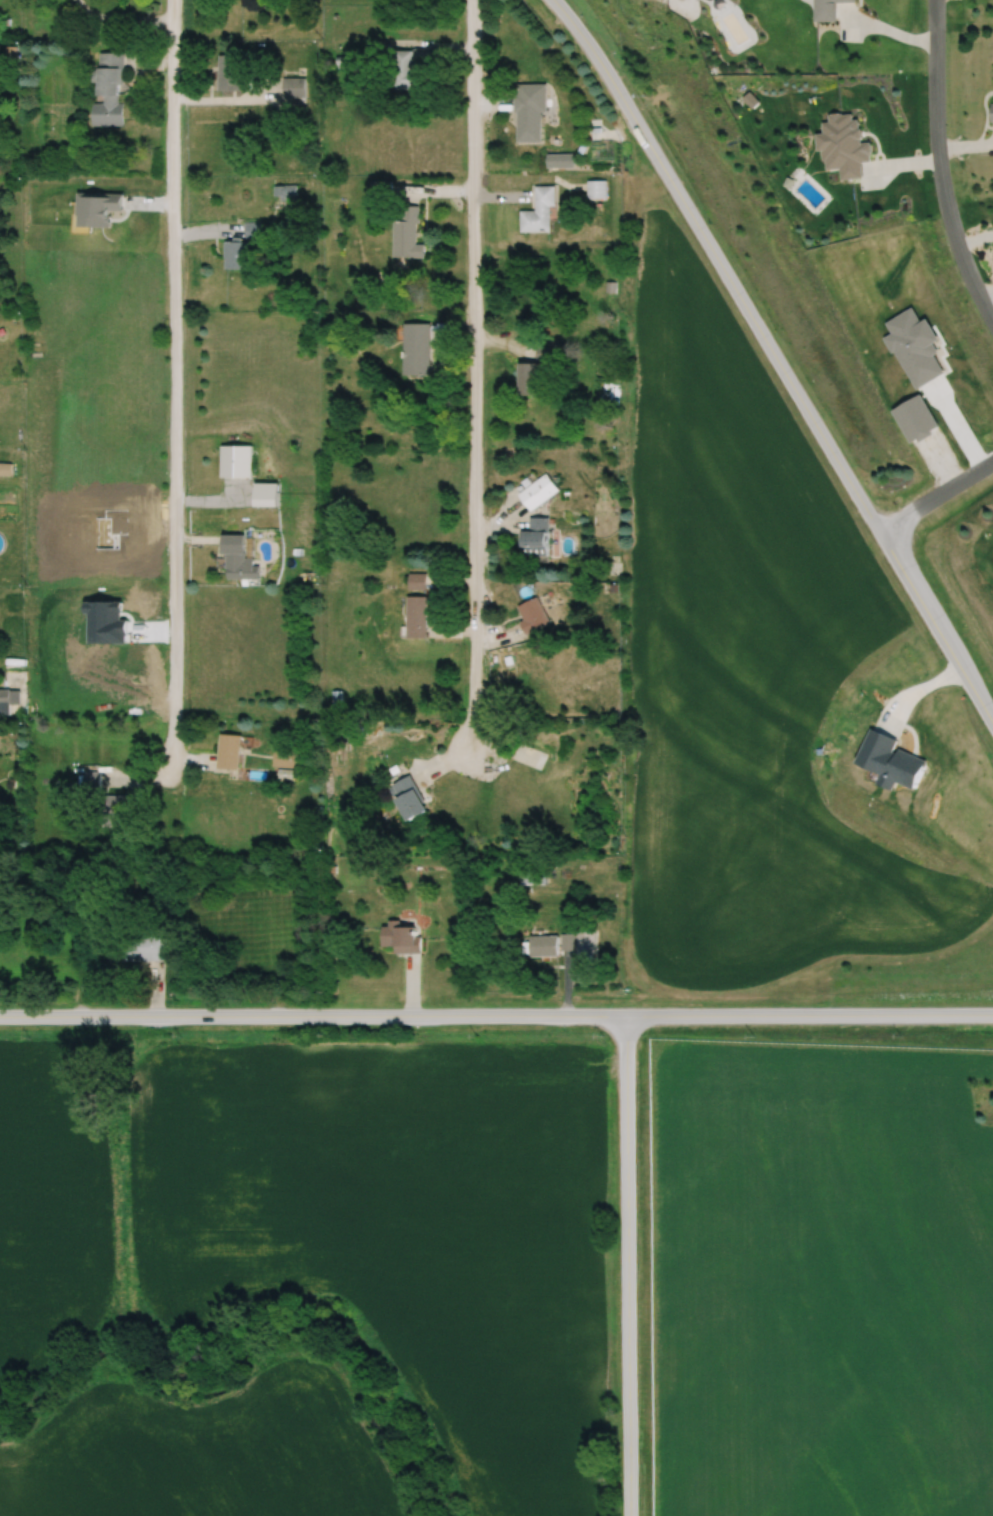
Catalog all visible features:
road: (675, 4)
road: (123, 17)
building: (230, 71)
building: (407, 71)
building: (292, 87)
building: (109, 91)
building: (527, 112)
road: (938, 159)
building: (554, 160)
building: (595, 189)
building: (538, 211)
building: (251, 230)
building: (407, 234)
building: (235, 255)
building: (416, 349)
road: (778, 358)
building: (535, 370)
road: (472, 375)
road: (175, 379)
building: (236, 462)
building: (5, 469)
building: (537, 492)
road: (938, 495)
building: (270, 500)
building: (536, 536)
building: (238, 559)
building: (416, 580)
building: (533, 614)
building: (416, 616)
building: (8, 700)
building: (336, 700)
building: (229, 751)
building: (283, 758)
building: (90, 780)
building: (410, 797)
building: (115, 810)
building: (531, 875)
building: (401, 937)
building: (567, 942)
building: (543, 945)
building: (143, 946)
road: (496, 1016)
road: (625, 1266)

